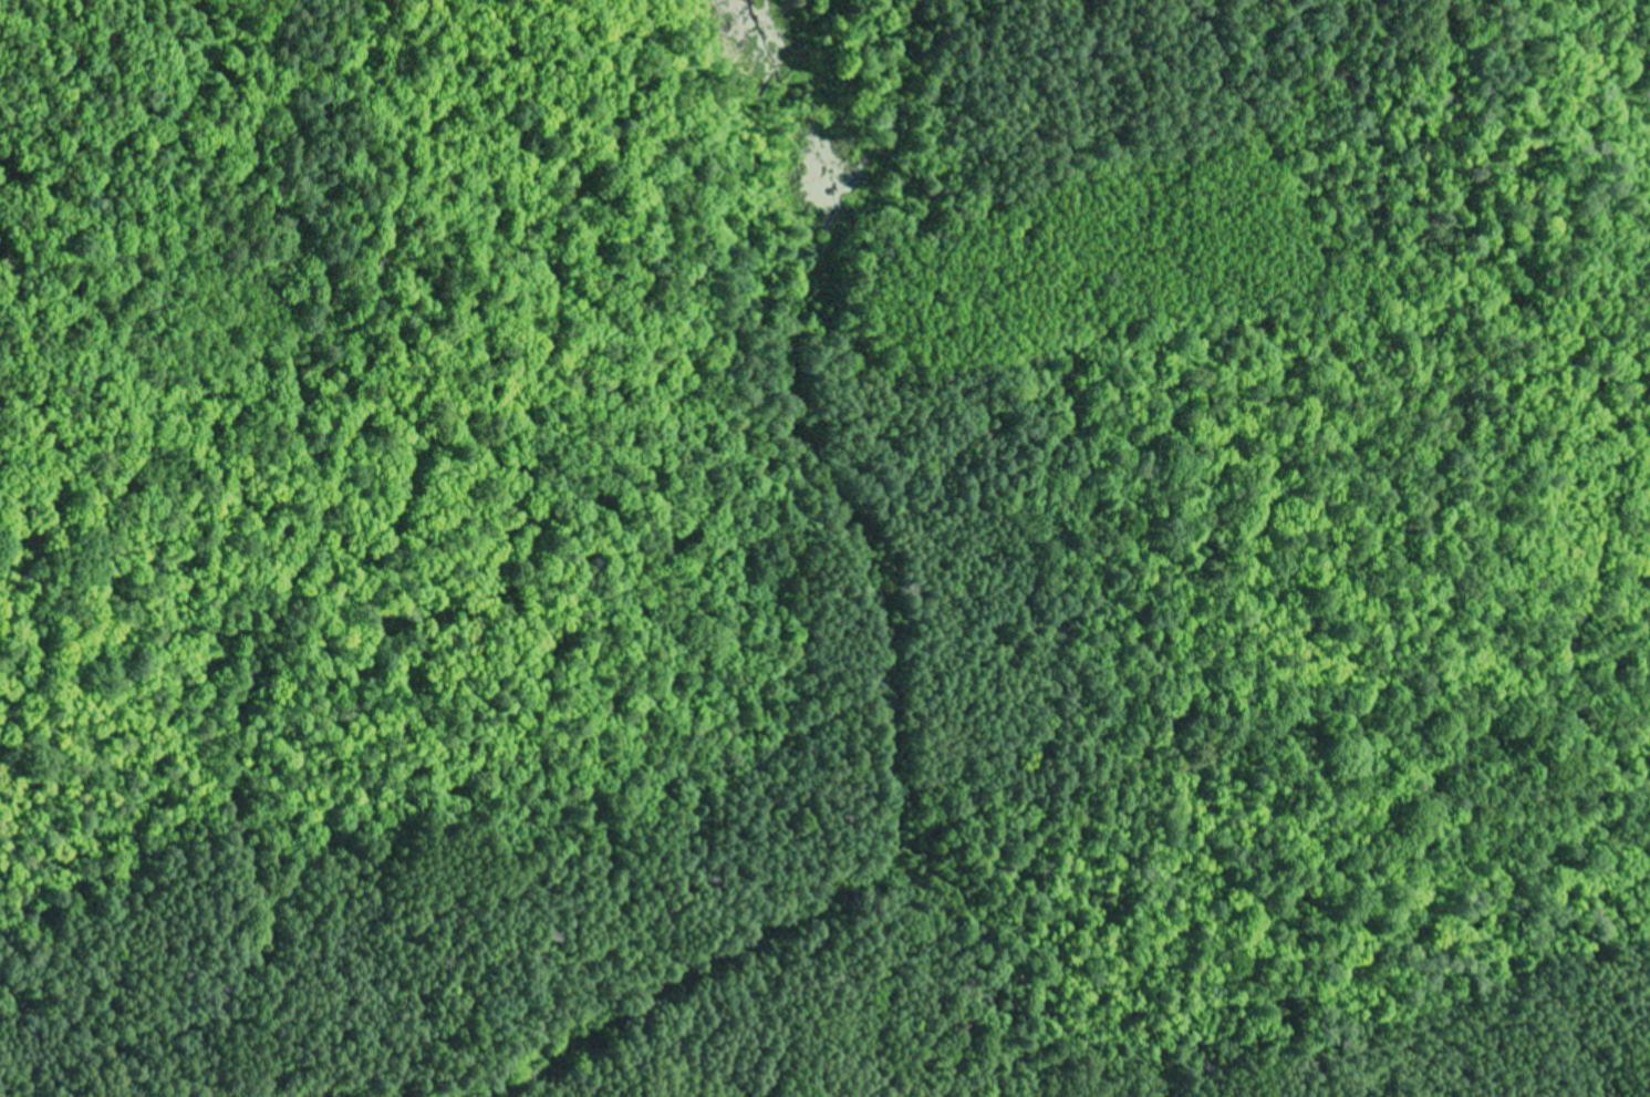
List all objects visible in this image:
road: (1556, 413)
road: (286, 558)
road: (751, 593)
road: (938, 676)
road: (290, 1046)

